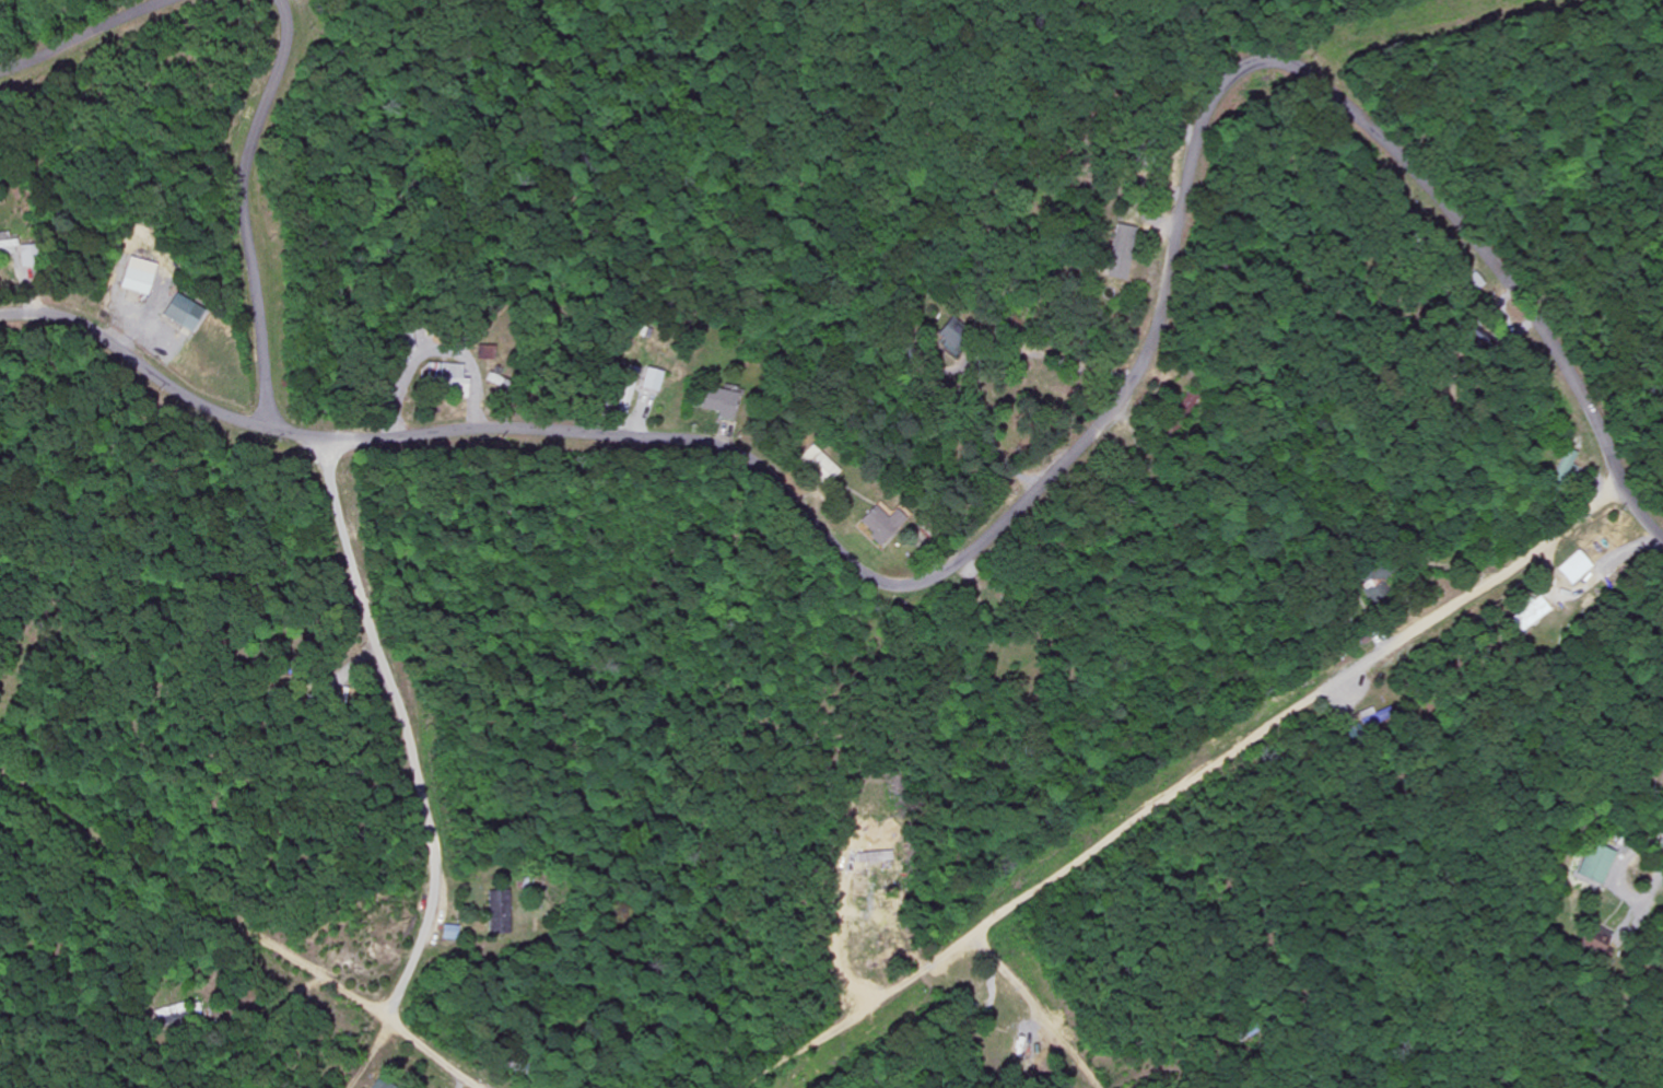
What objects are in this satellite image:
road: (84, 38)
road: (1178, 45)
road: (238, 209)
building: (9, 247)
building: (1122, 251)
building: (27, 255)
building: (137, 274)
building: (183, 312)
building: (951, 334)
building: (484, 351)
building: (447, 377)
building: (651, 379)
building: (626, 389)
building: (717, 401)
building: (1186, 401)
building: (816, 463)
road: (1029, 494)
building: (881, 522)
building: (1574, 565)
building: (1530, 611)
building: (1374, 715)
road: (401, 735)
road: (1186, 786)
building: (1595, 862)
building: (497, 911)
building: (449, 932)
building: (1603, 940)
road: (363, 1007)
road: (1034, 1010)
road: (371, 1057)
building: (382, 1083)

